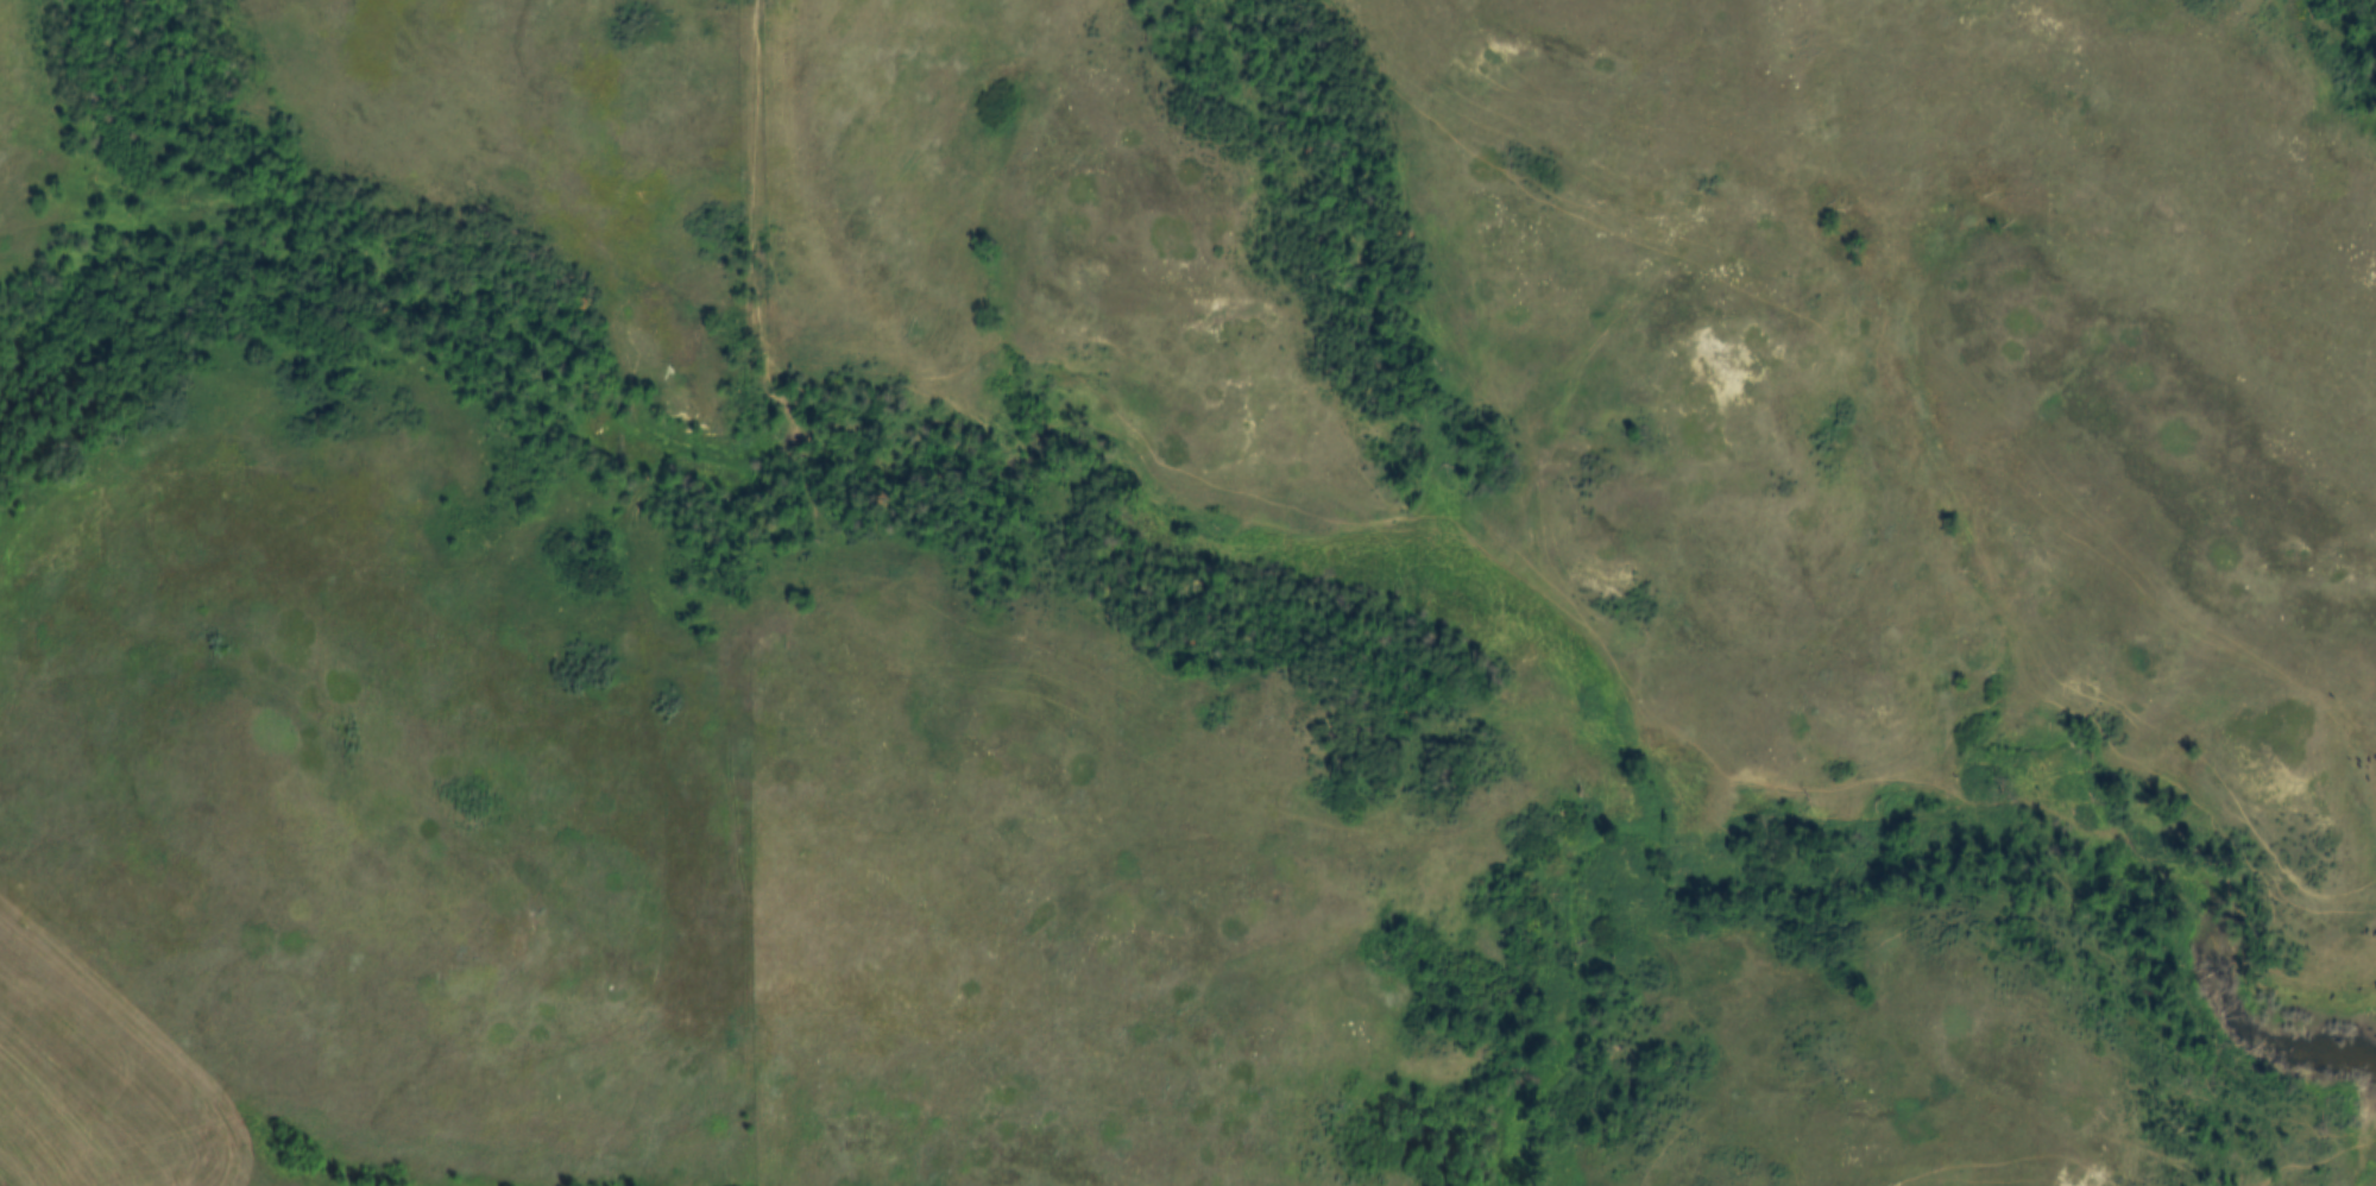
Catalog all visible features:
road: (1, 1184)

